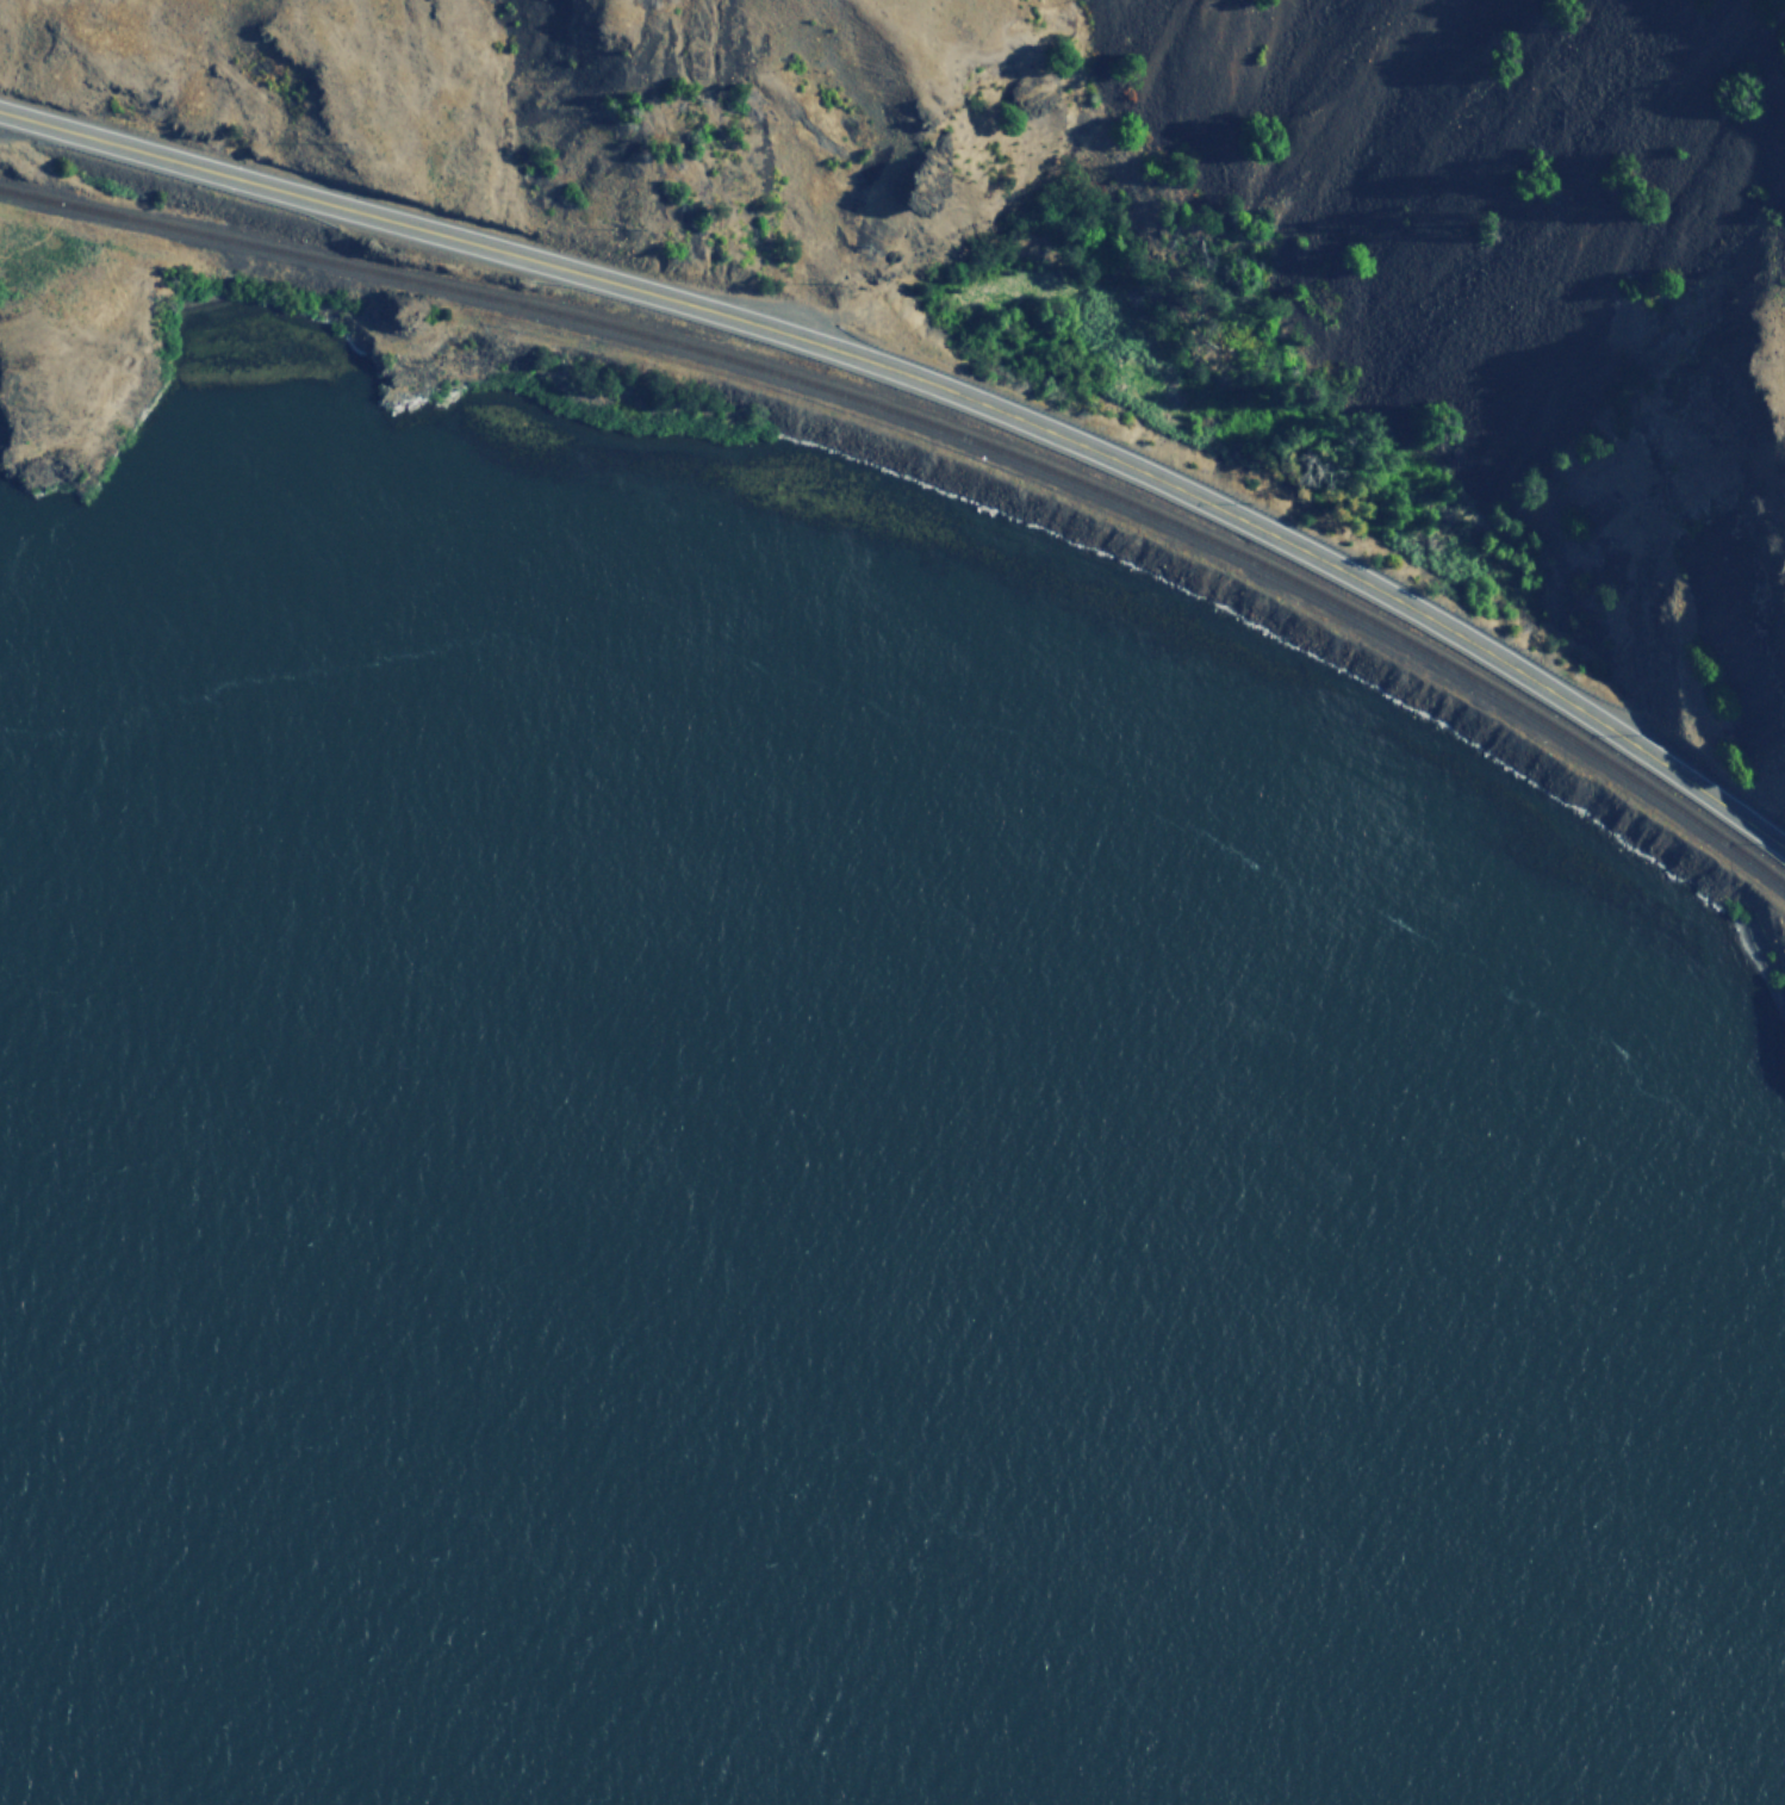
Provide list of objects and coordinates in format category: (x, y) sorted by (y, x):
road: (934, 386)
railway: (937, 426)
river: (378, 1502)

